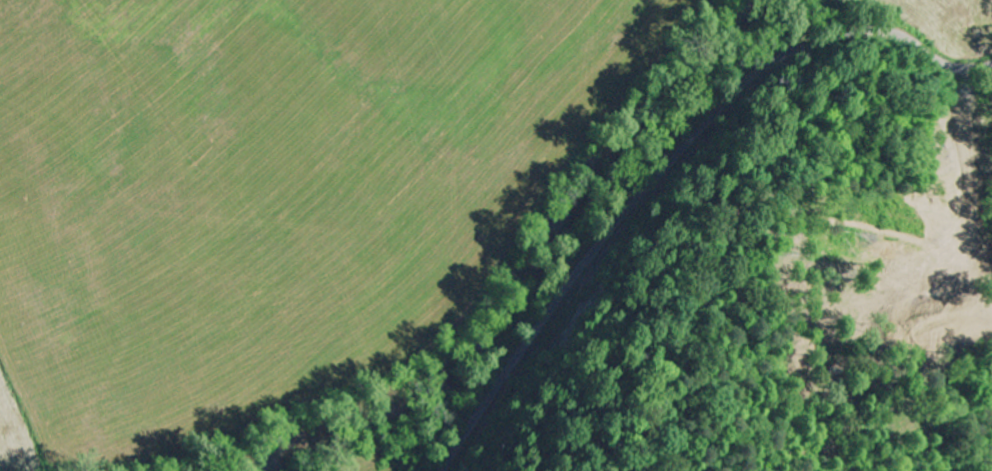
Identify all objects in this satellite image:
road: (952, 73)
road: (668, 169)
river: (527, 268)

